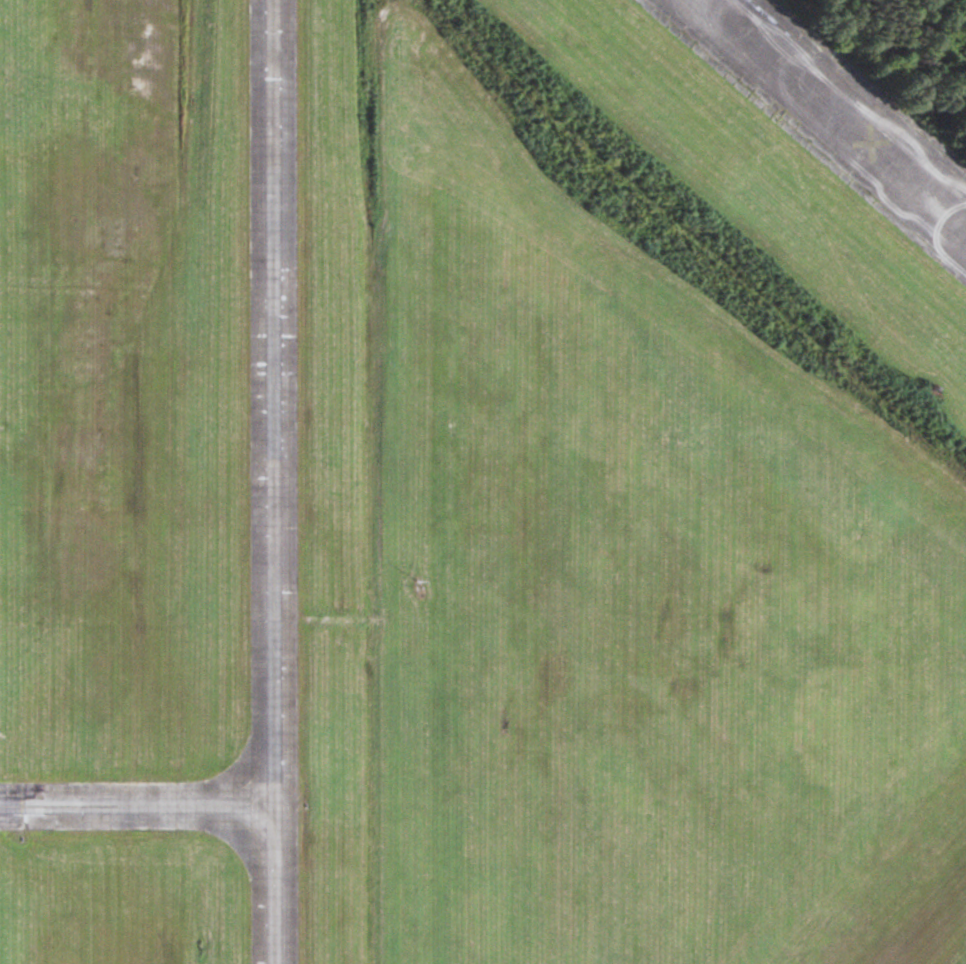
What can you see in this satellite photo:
airport taxiway: (273, 482)
airport: (483, 482)
airport taxiway: (137, 806)

